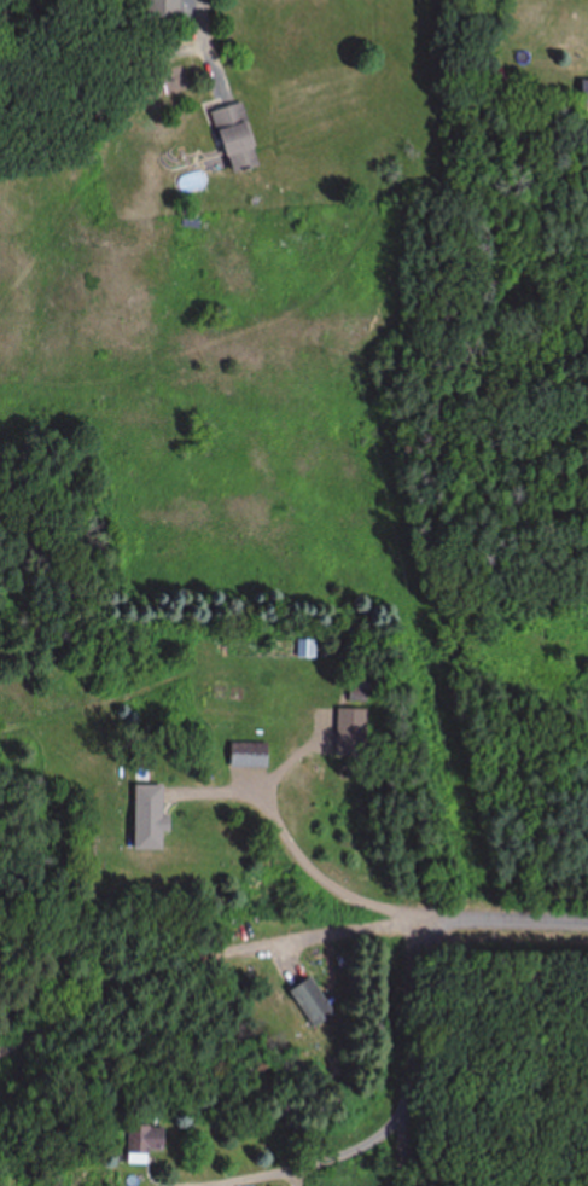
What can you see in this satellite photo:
road: (206, 16)
building: (581, 91)
building: (231, 138)
building: (357, 691)
building: (350, 729)
building: (248, 755)
road: (275, 808)
building: (145, 819)
road: (449, 938)
road: (231, 995)
building: (309, 1002)
road: (395, 1120)
building: (144, 1143)

